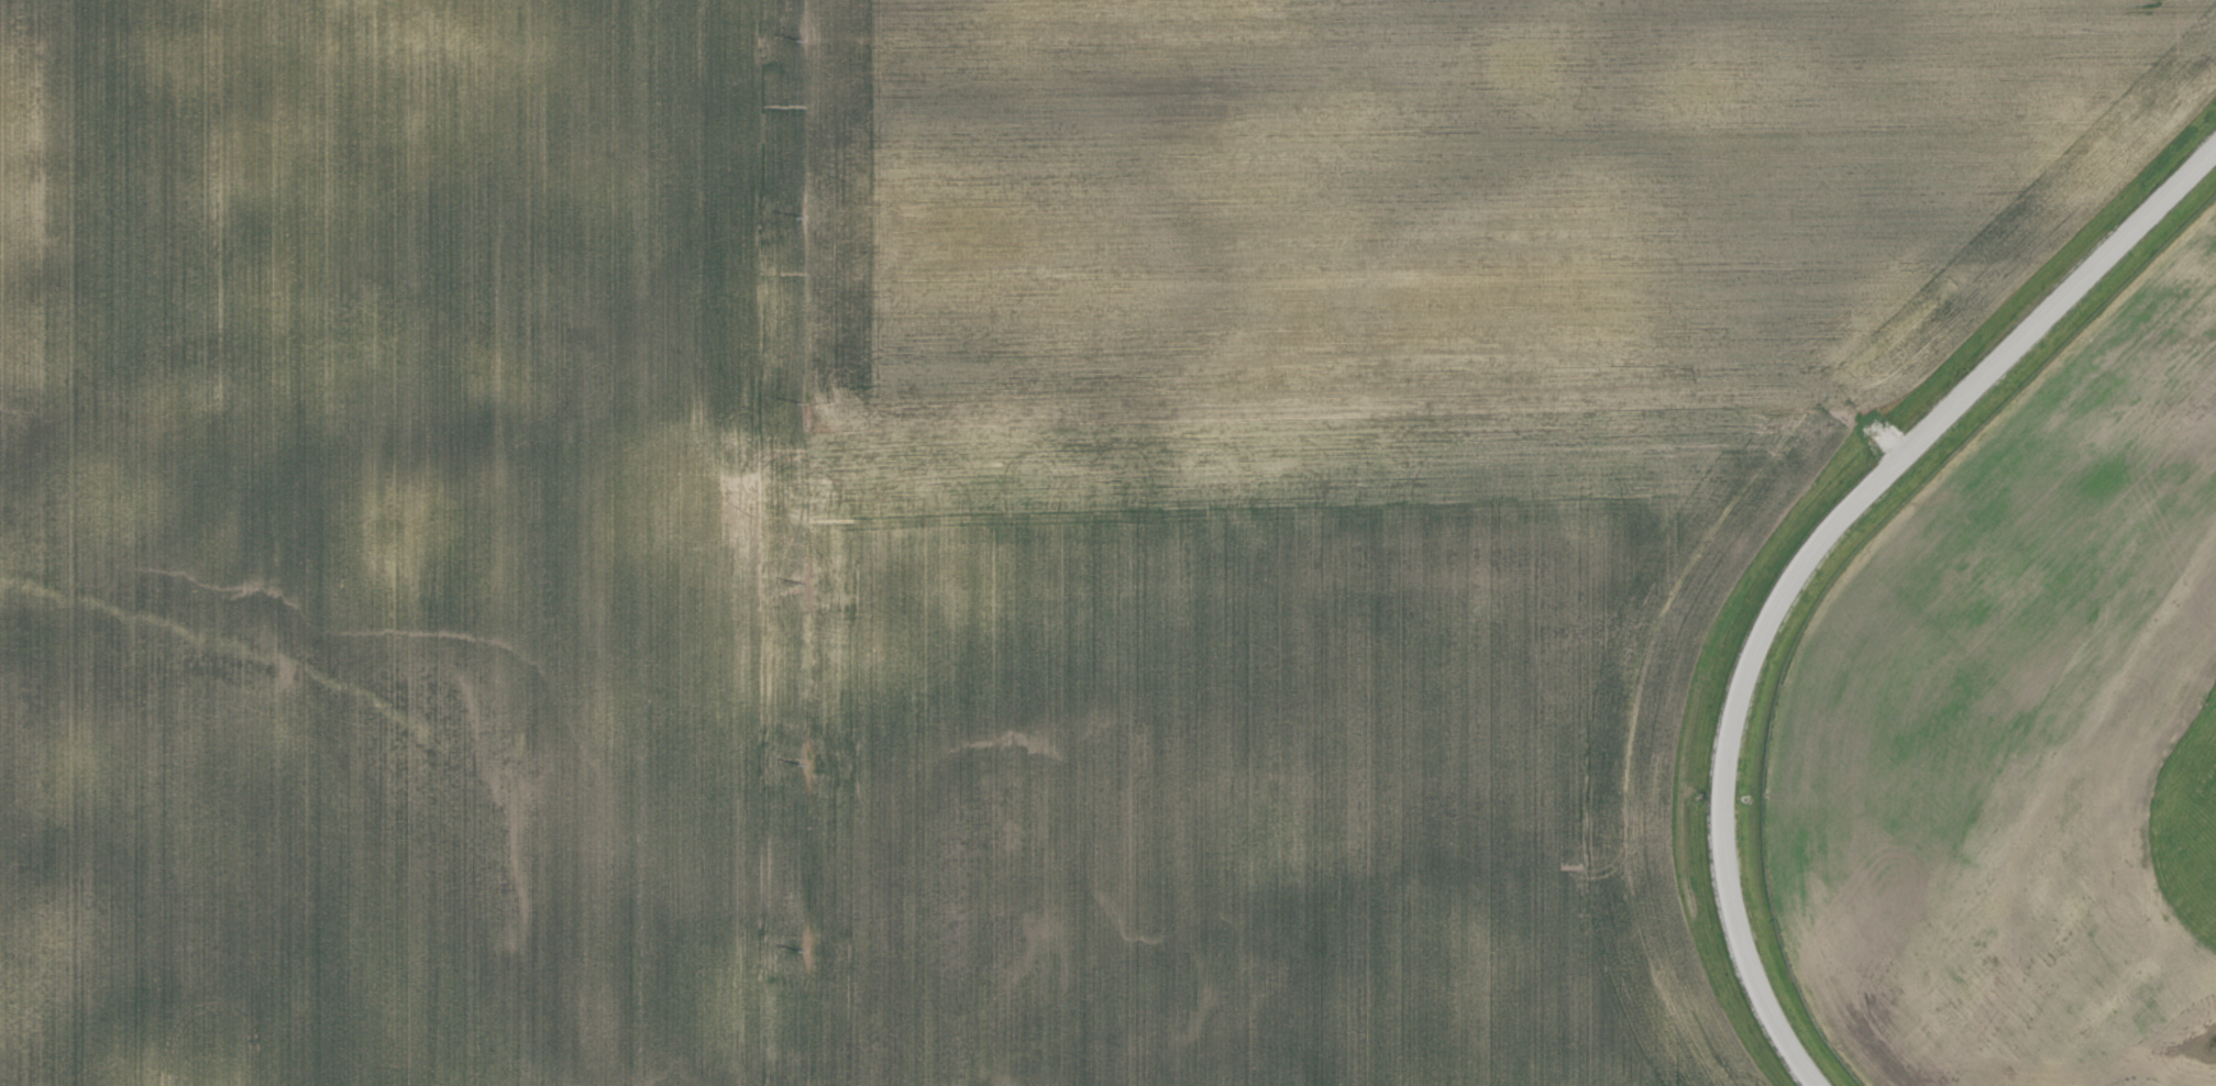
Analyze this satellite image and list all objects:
road: (1809, 553)
airport: (2030, 740)

